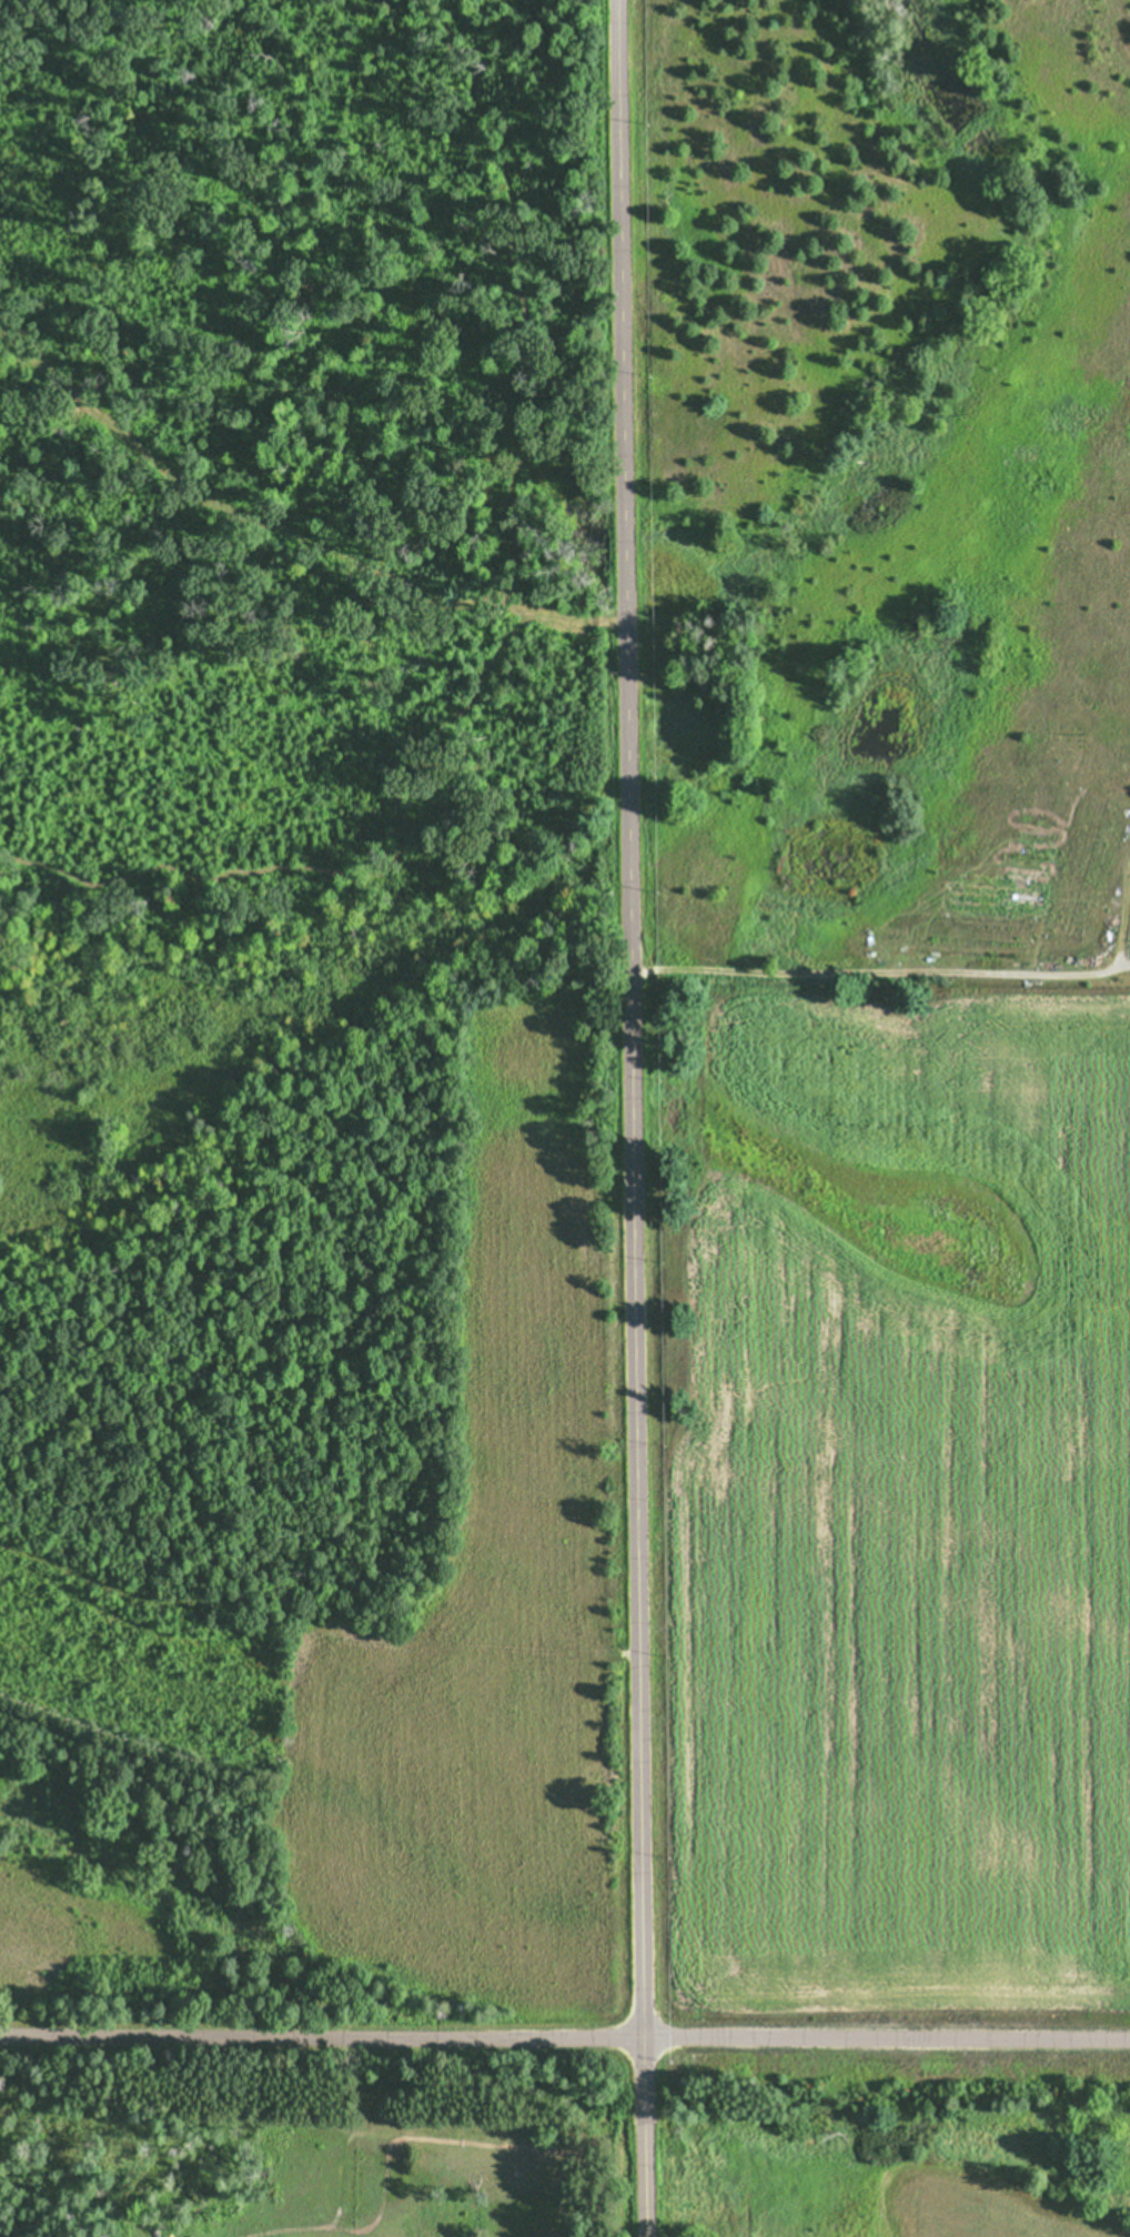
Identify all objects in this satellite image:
road: (632, 1118)
road: (564, 2034)

